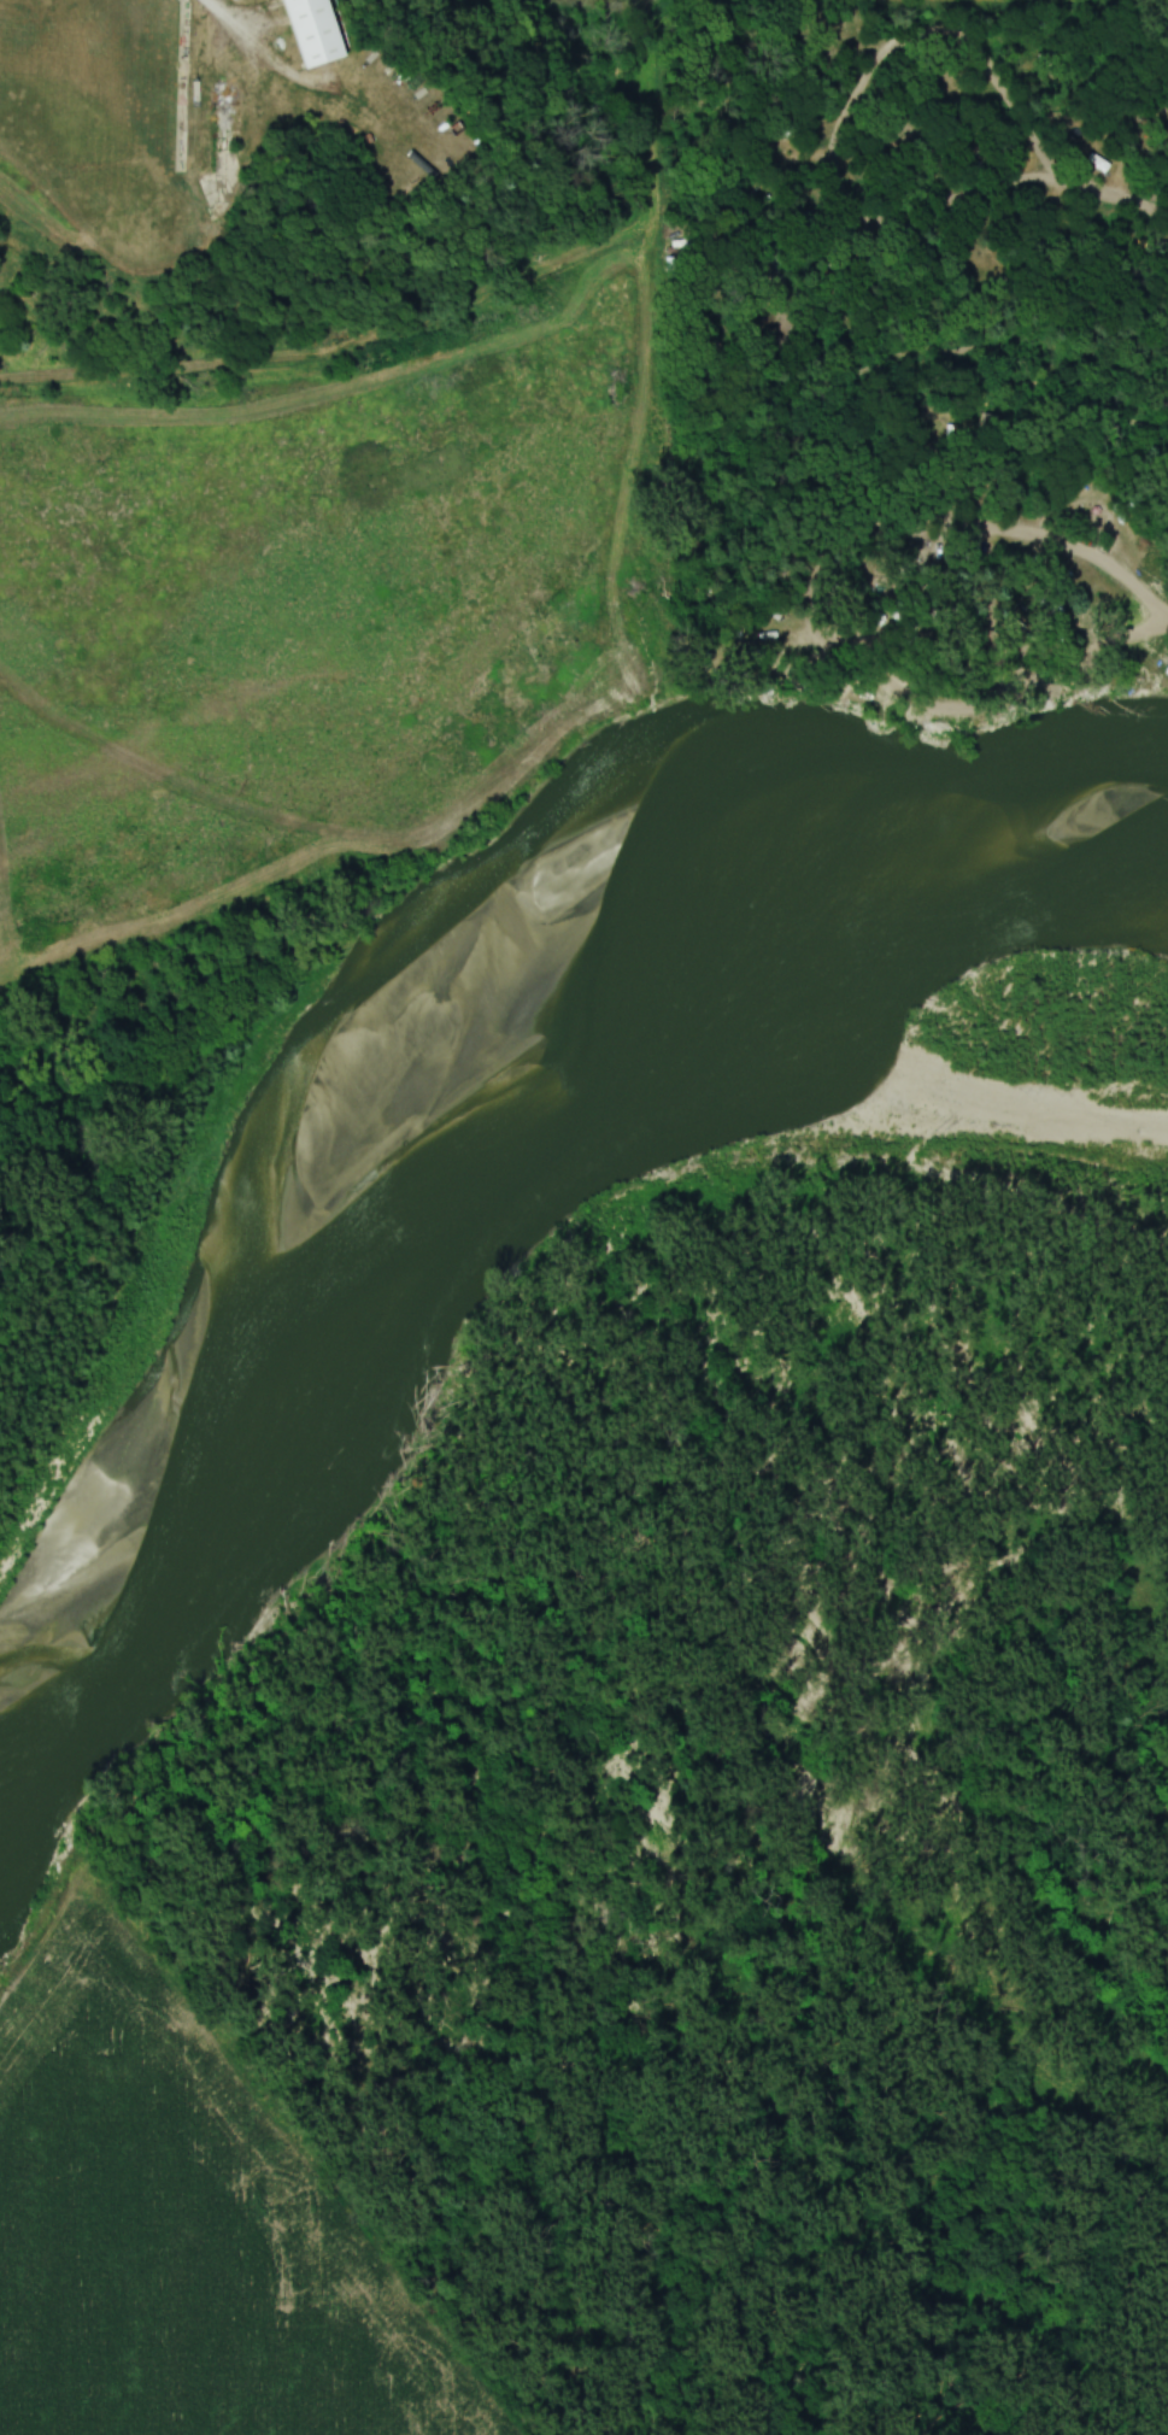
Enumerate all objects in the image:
building: (317, 30)
building: (1107, 152)
road: (1027, 535)
building: (1154, 681)
river: (494, 1181)

